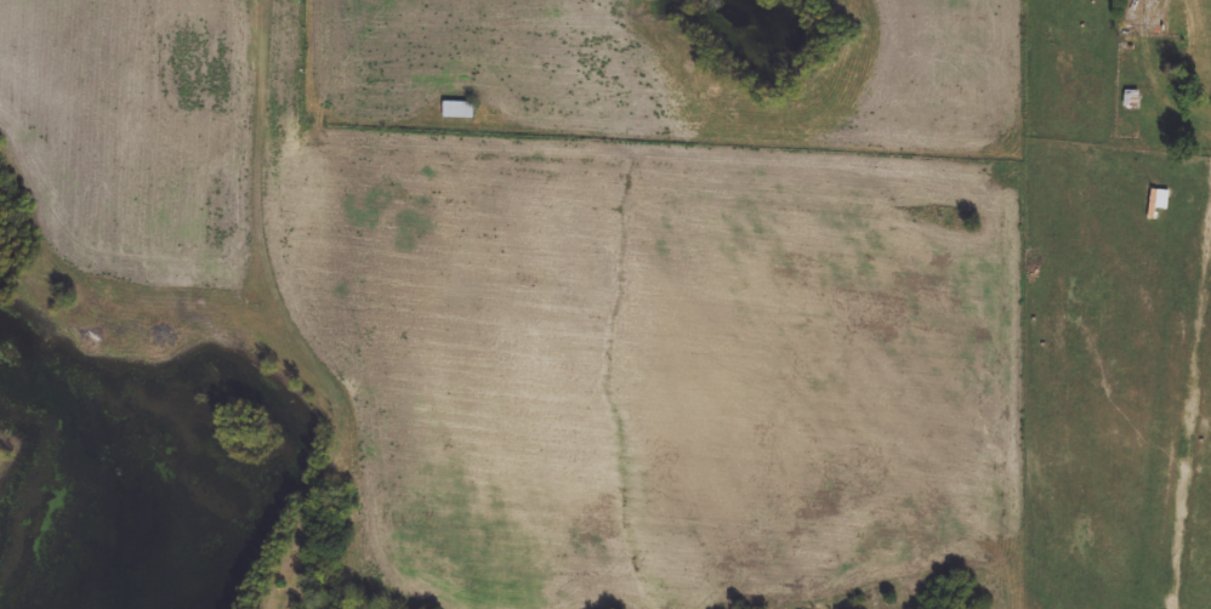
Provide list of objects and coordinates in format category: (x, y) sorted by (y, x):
building: (1133, 101)
building: (459, 112)

